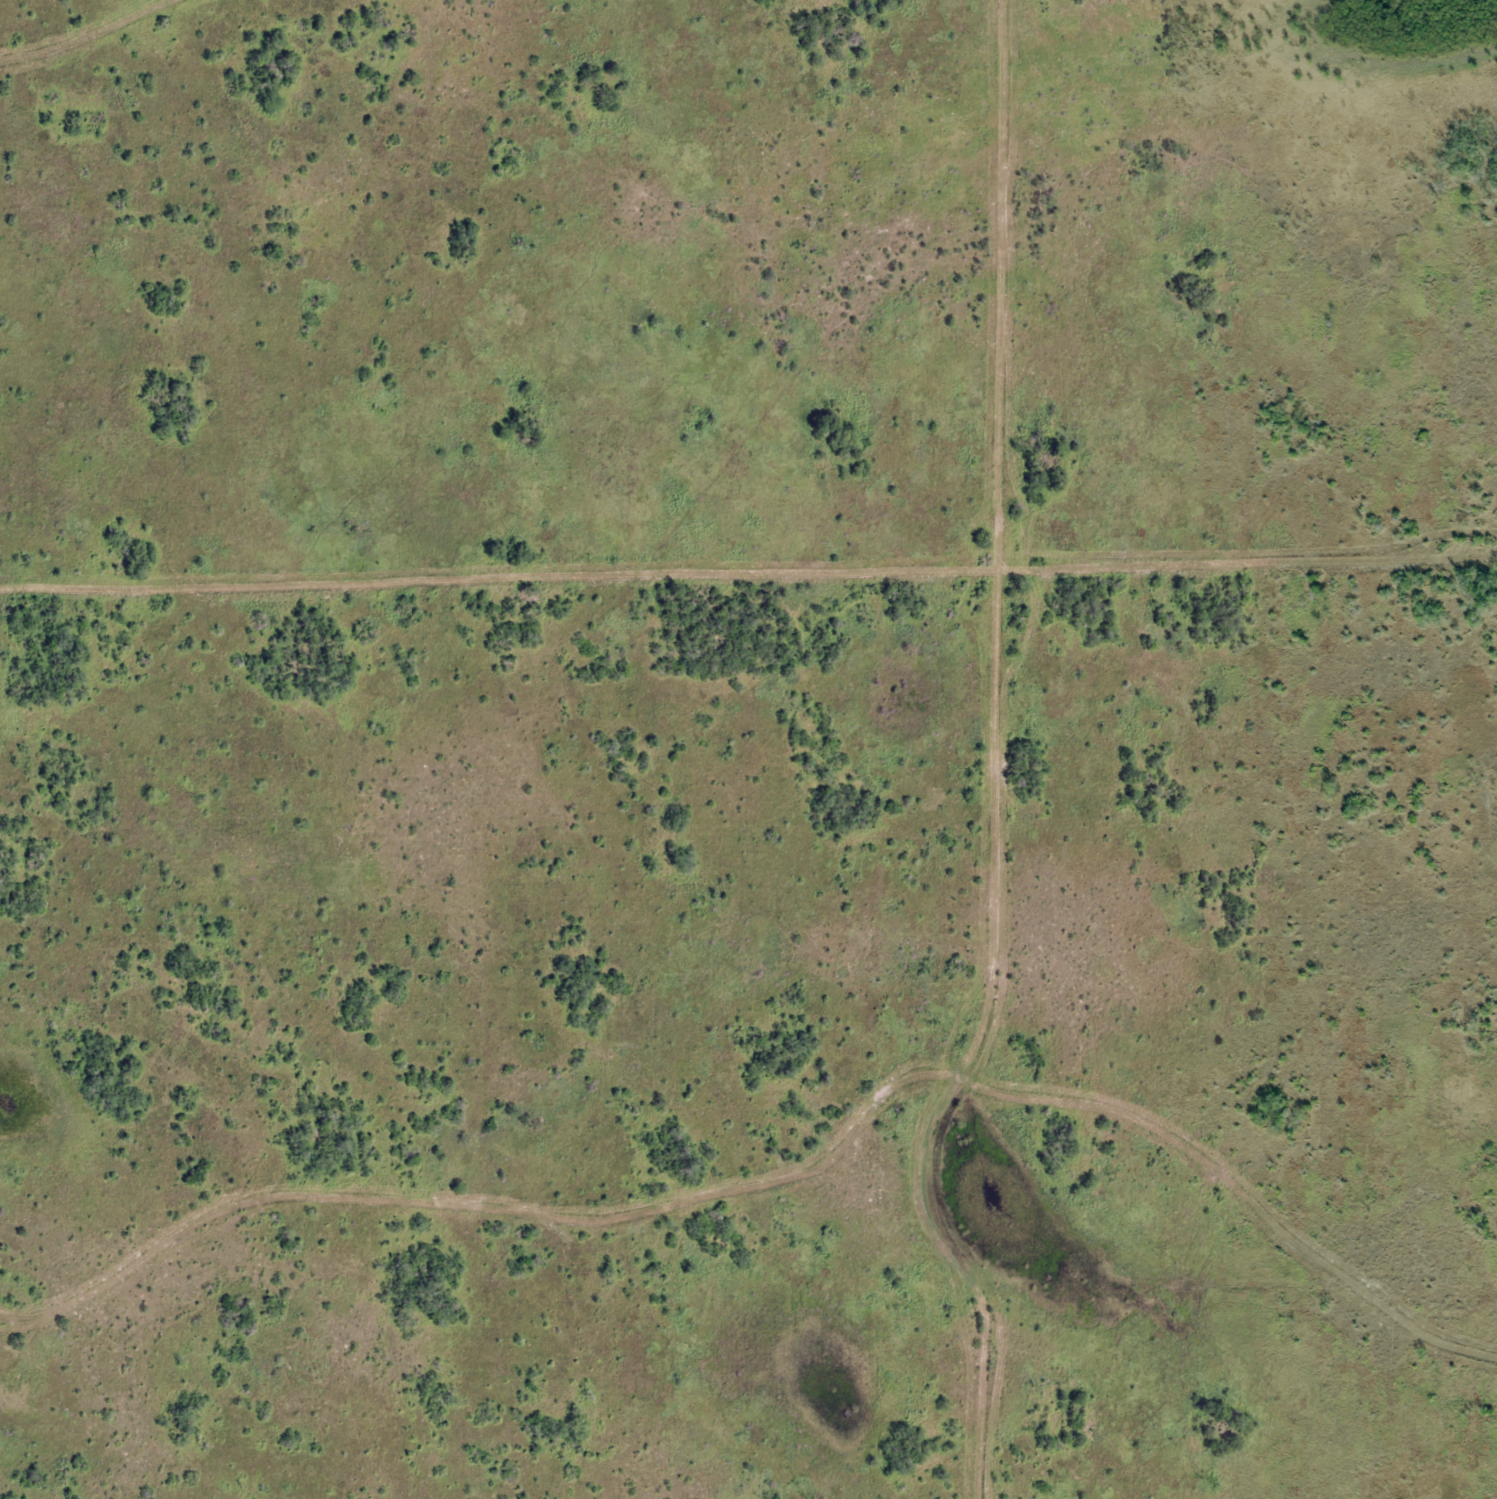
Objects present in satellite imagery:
road: (949, 774)

